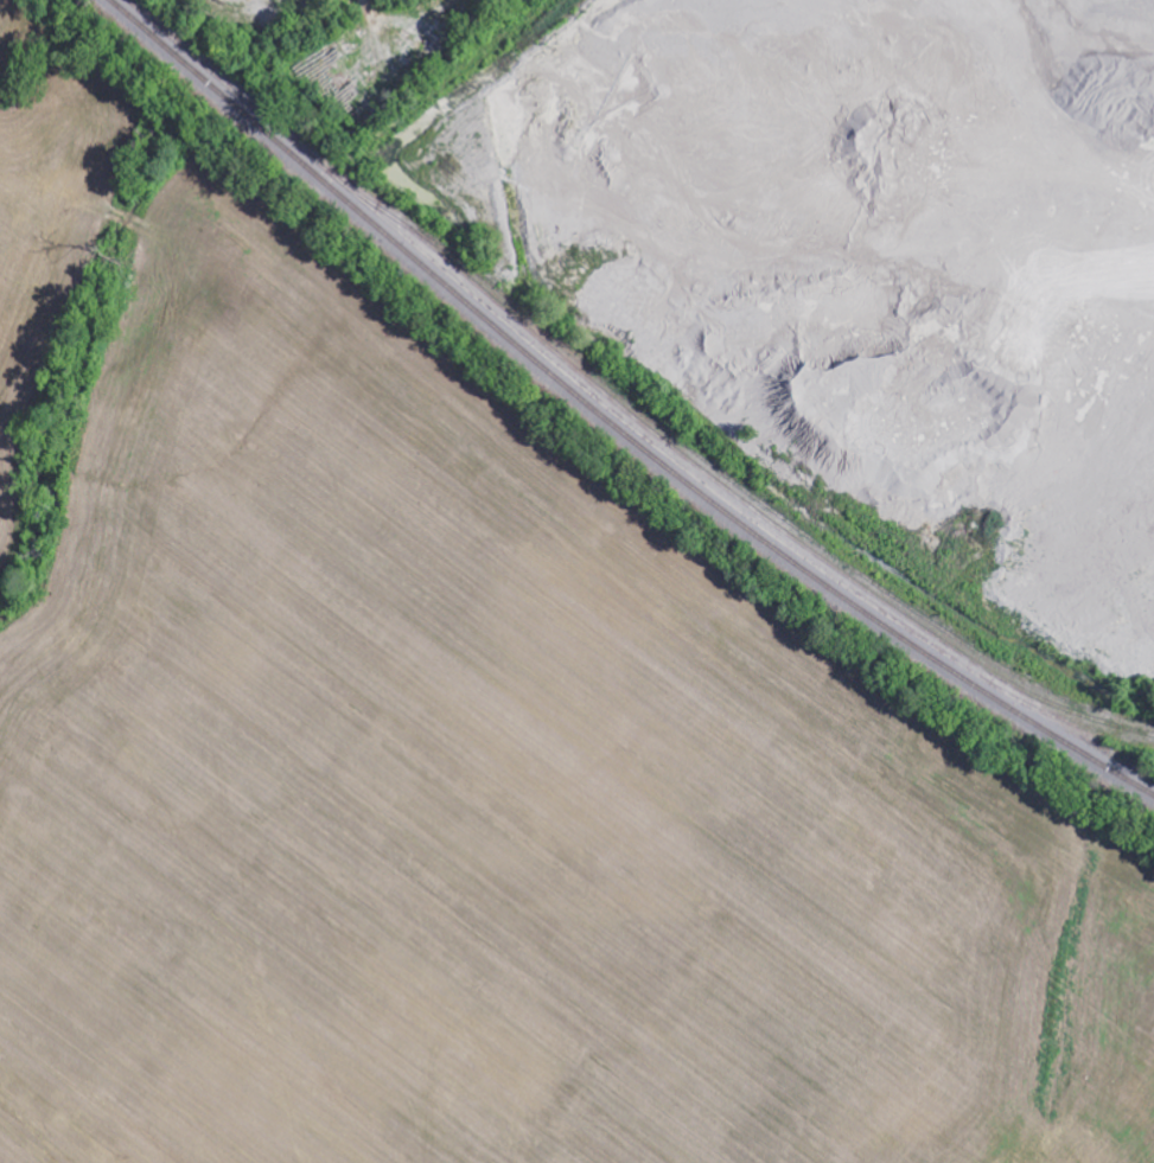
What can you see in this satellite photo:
railway: (616, 411)
railway: (613, 422)
railway: (723, 472)
railway: (745, 500)
railway: (1140, 717)

